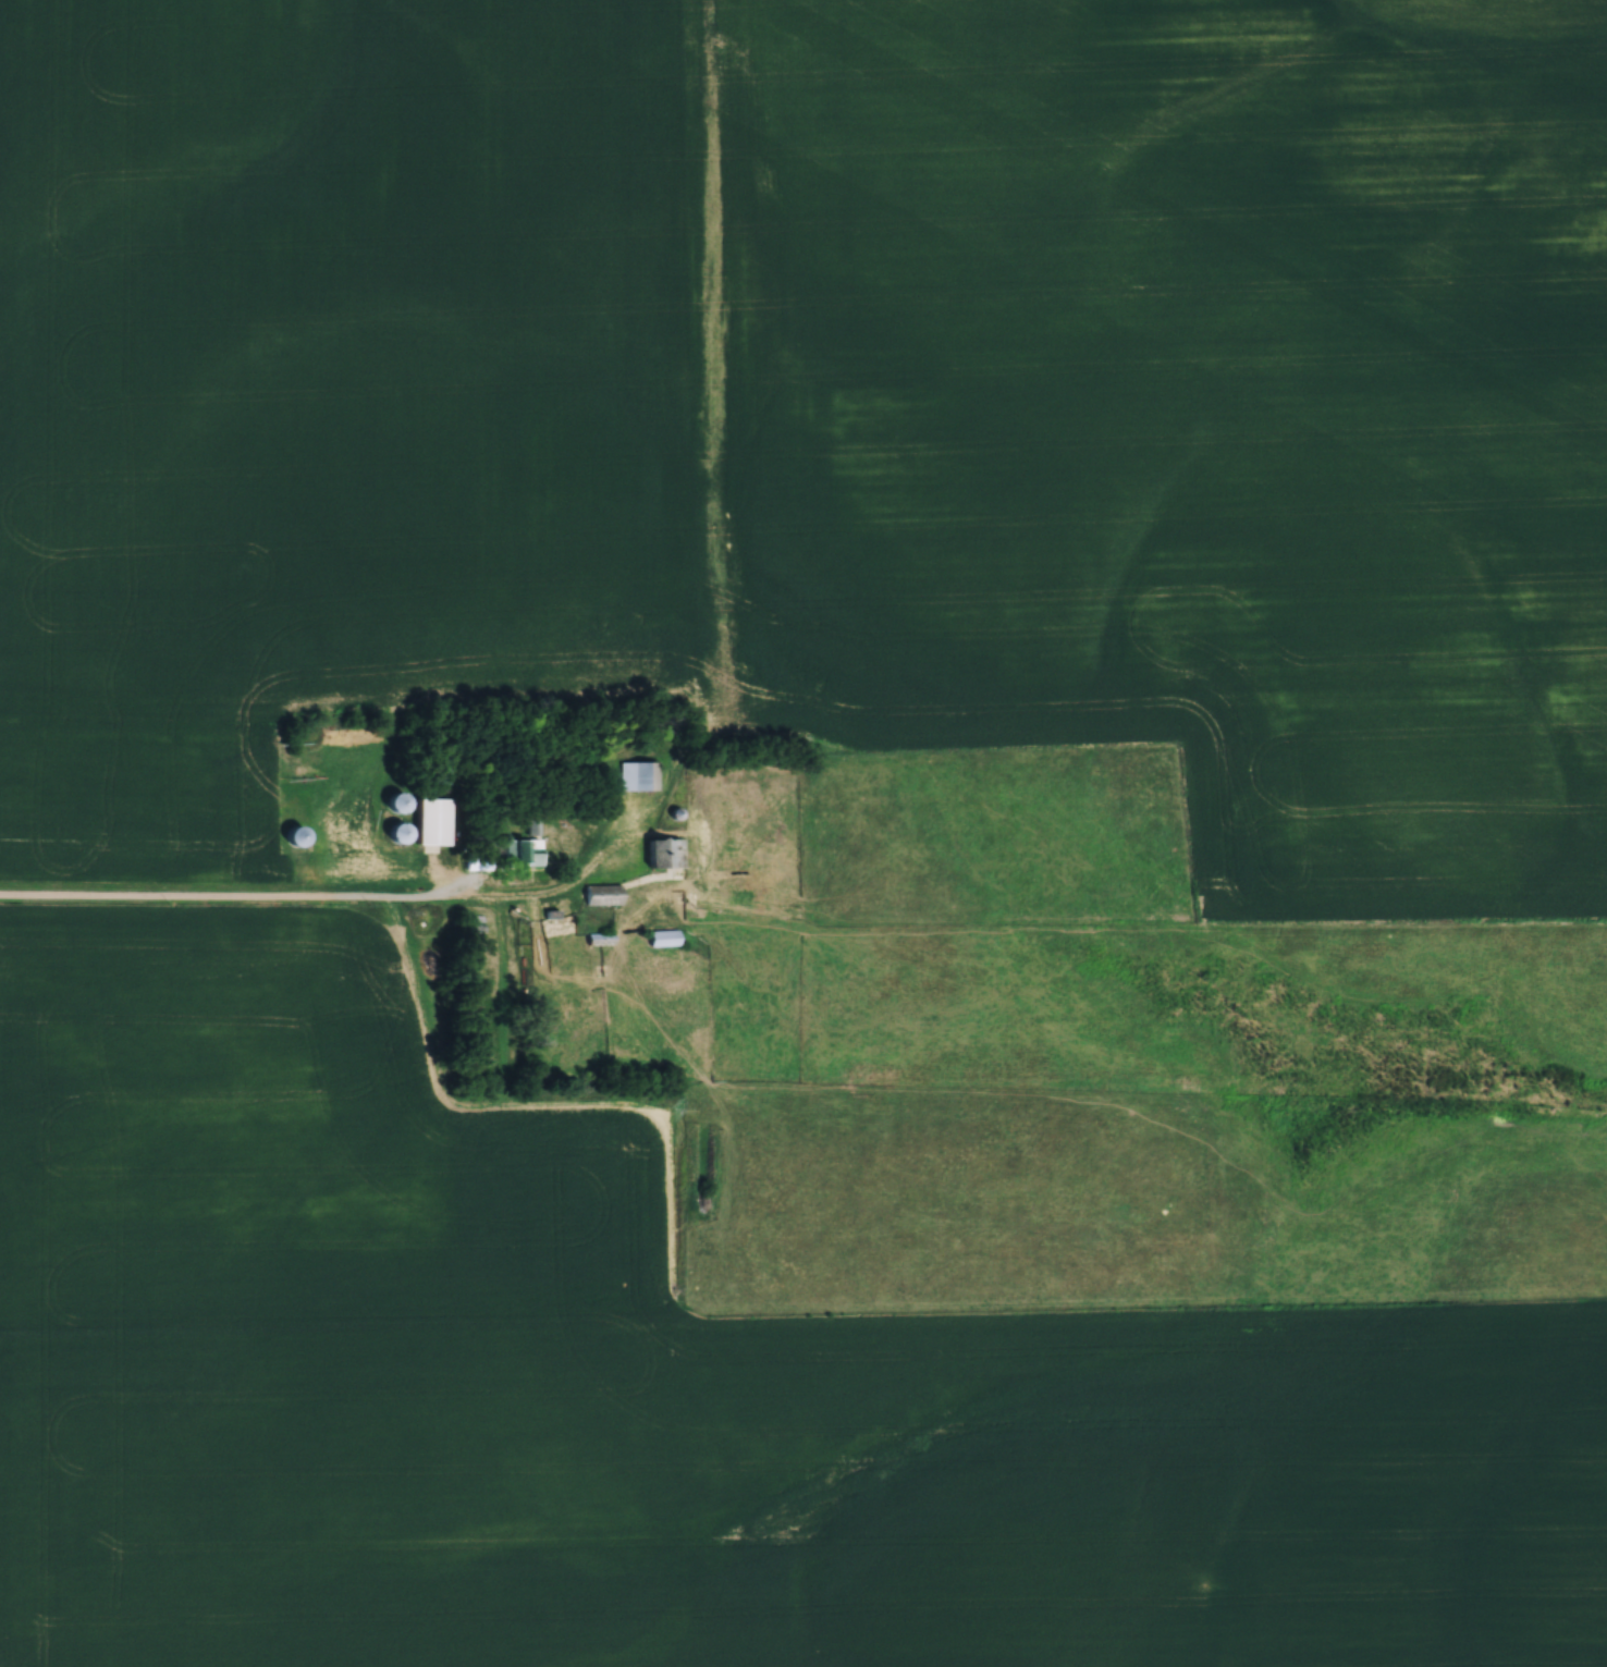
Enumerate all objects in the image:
building: (636, 774)
building: (430, 821)
building: (522, 850)
building: (601, 893)
road: (303, 900)
building: (663, 935)

